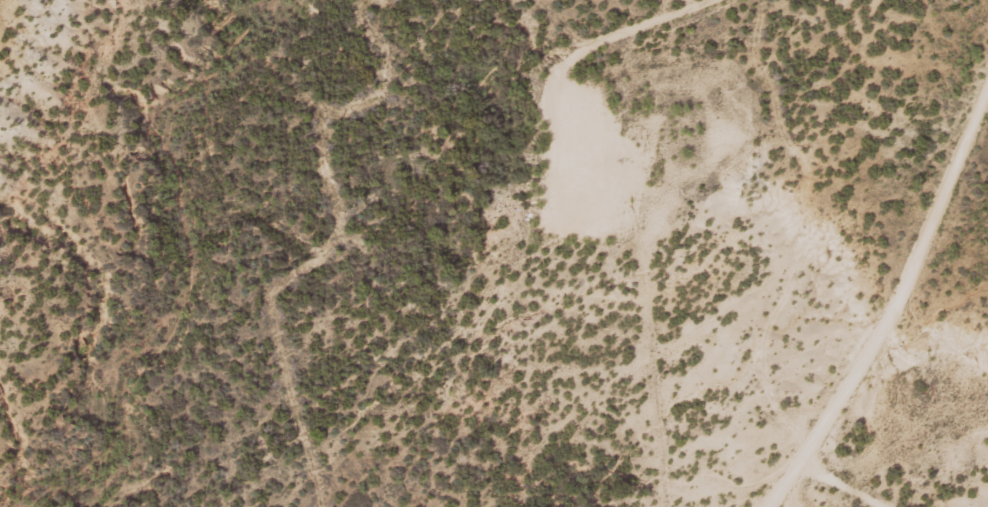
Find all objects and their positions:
road: (903, 301)

